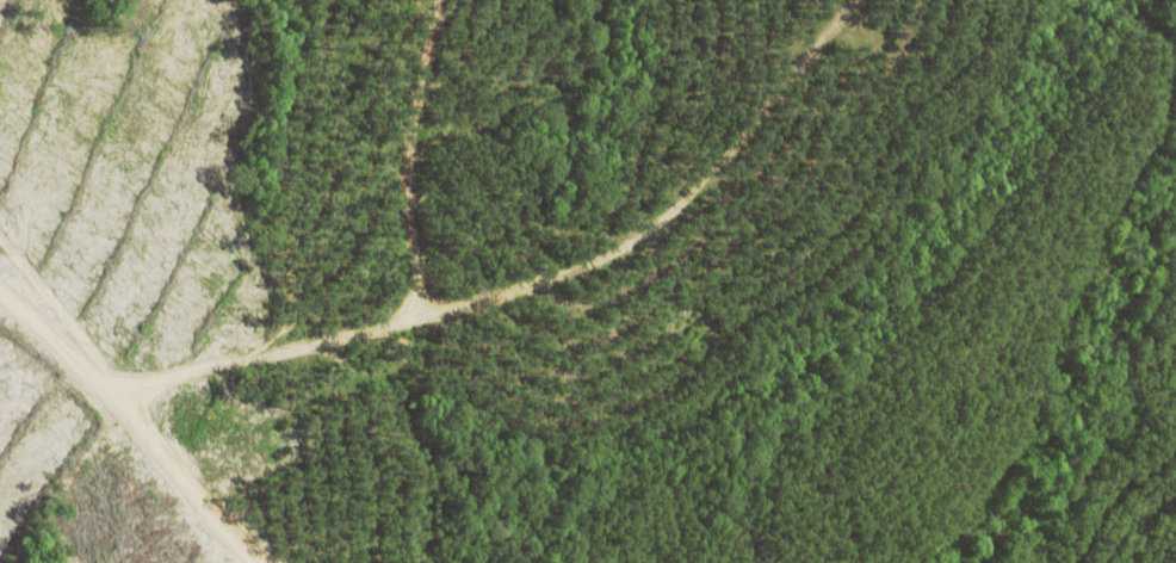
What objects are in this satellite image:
road: (211, 421)

